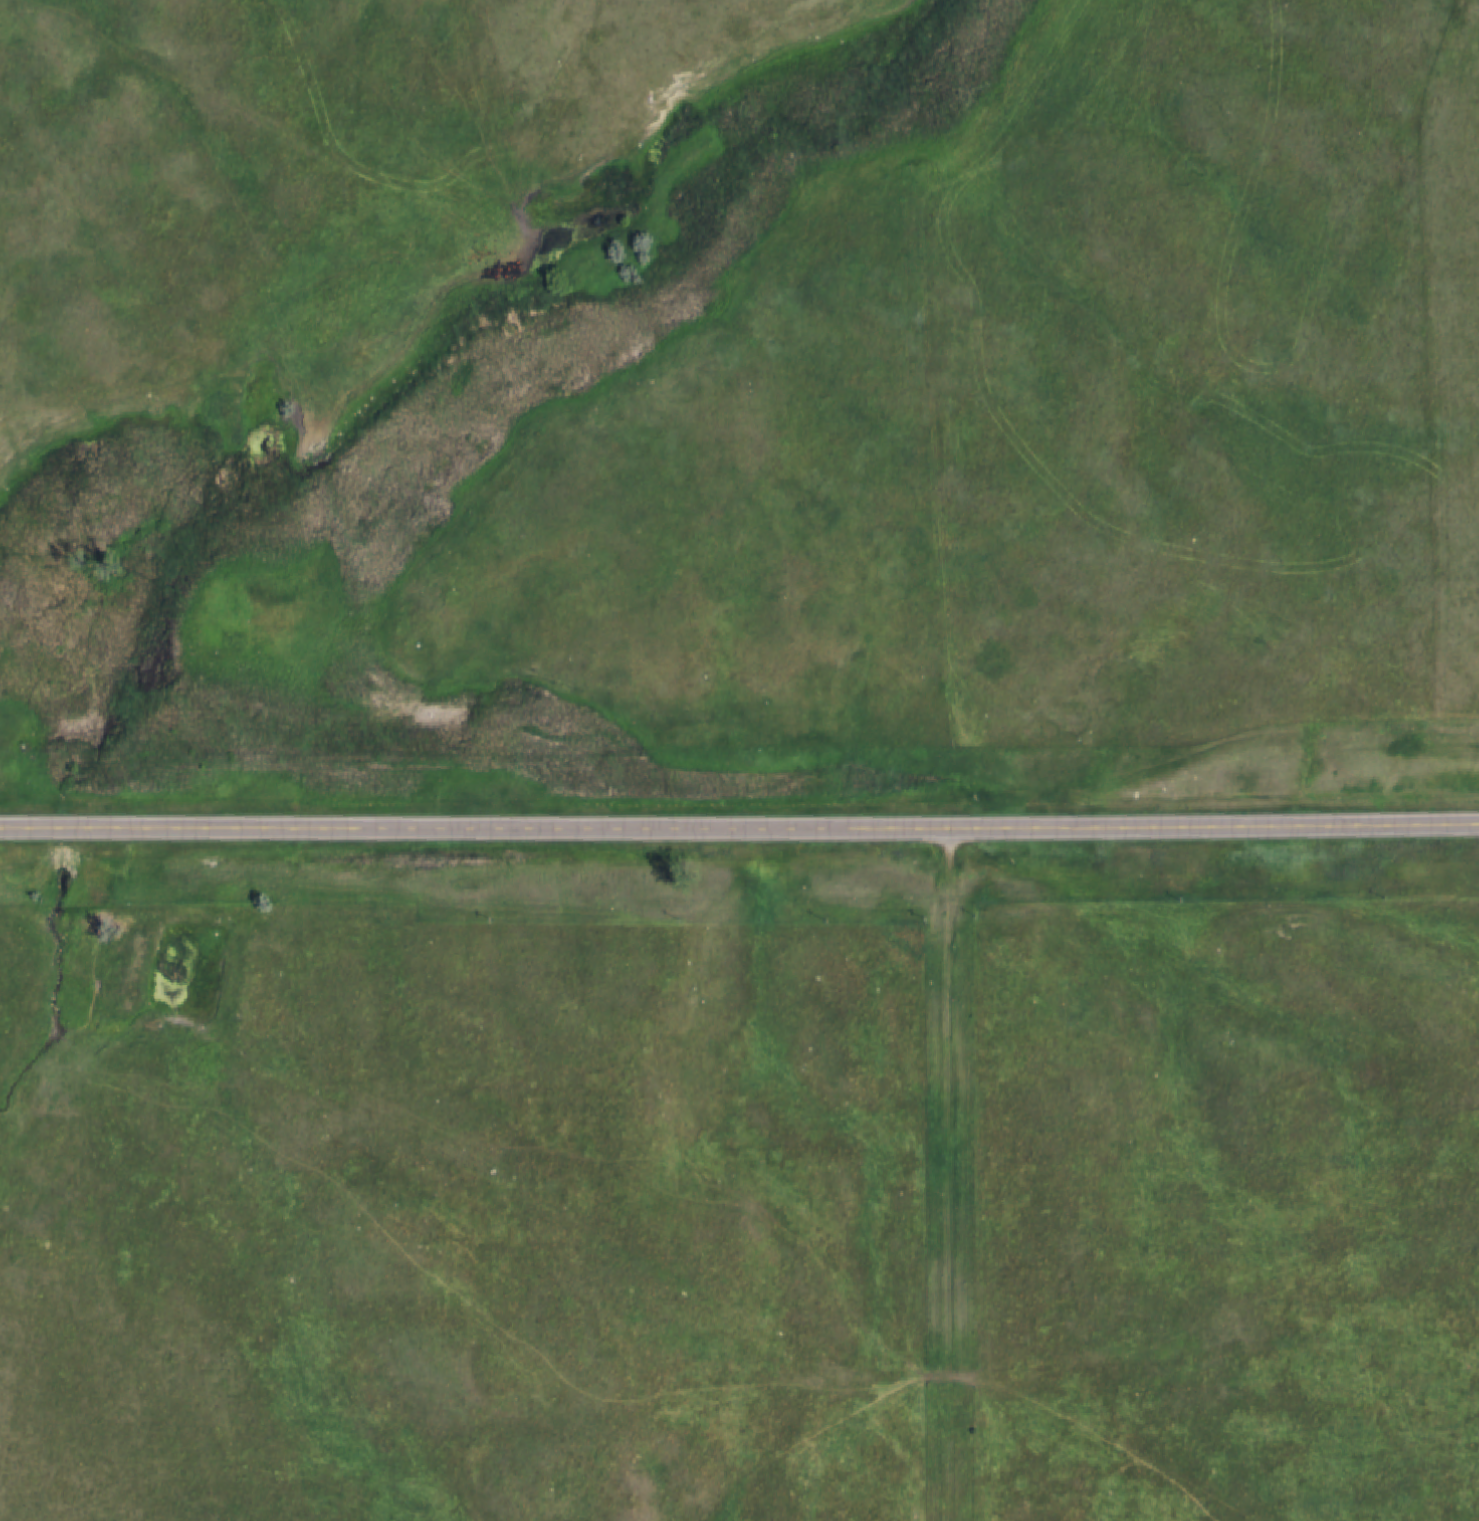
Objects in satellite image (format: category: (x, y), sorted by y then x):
road: (739, 828)
road: (956, 1175)

